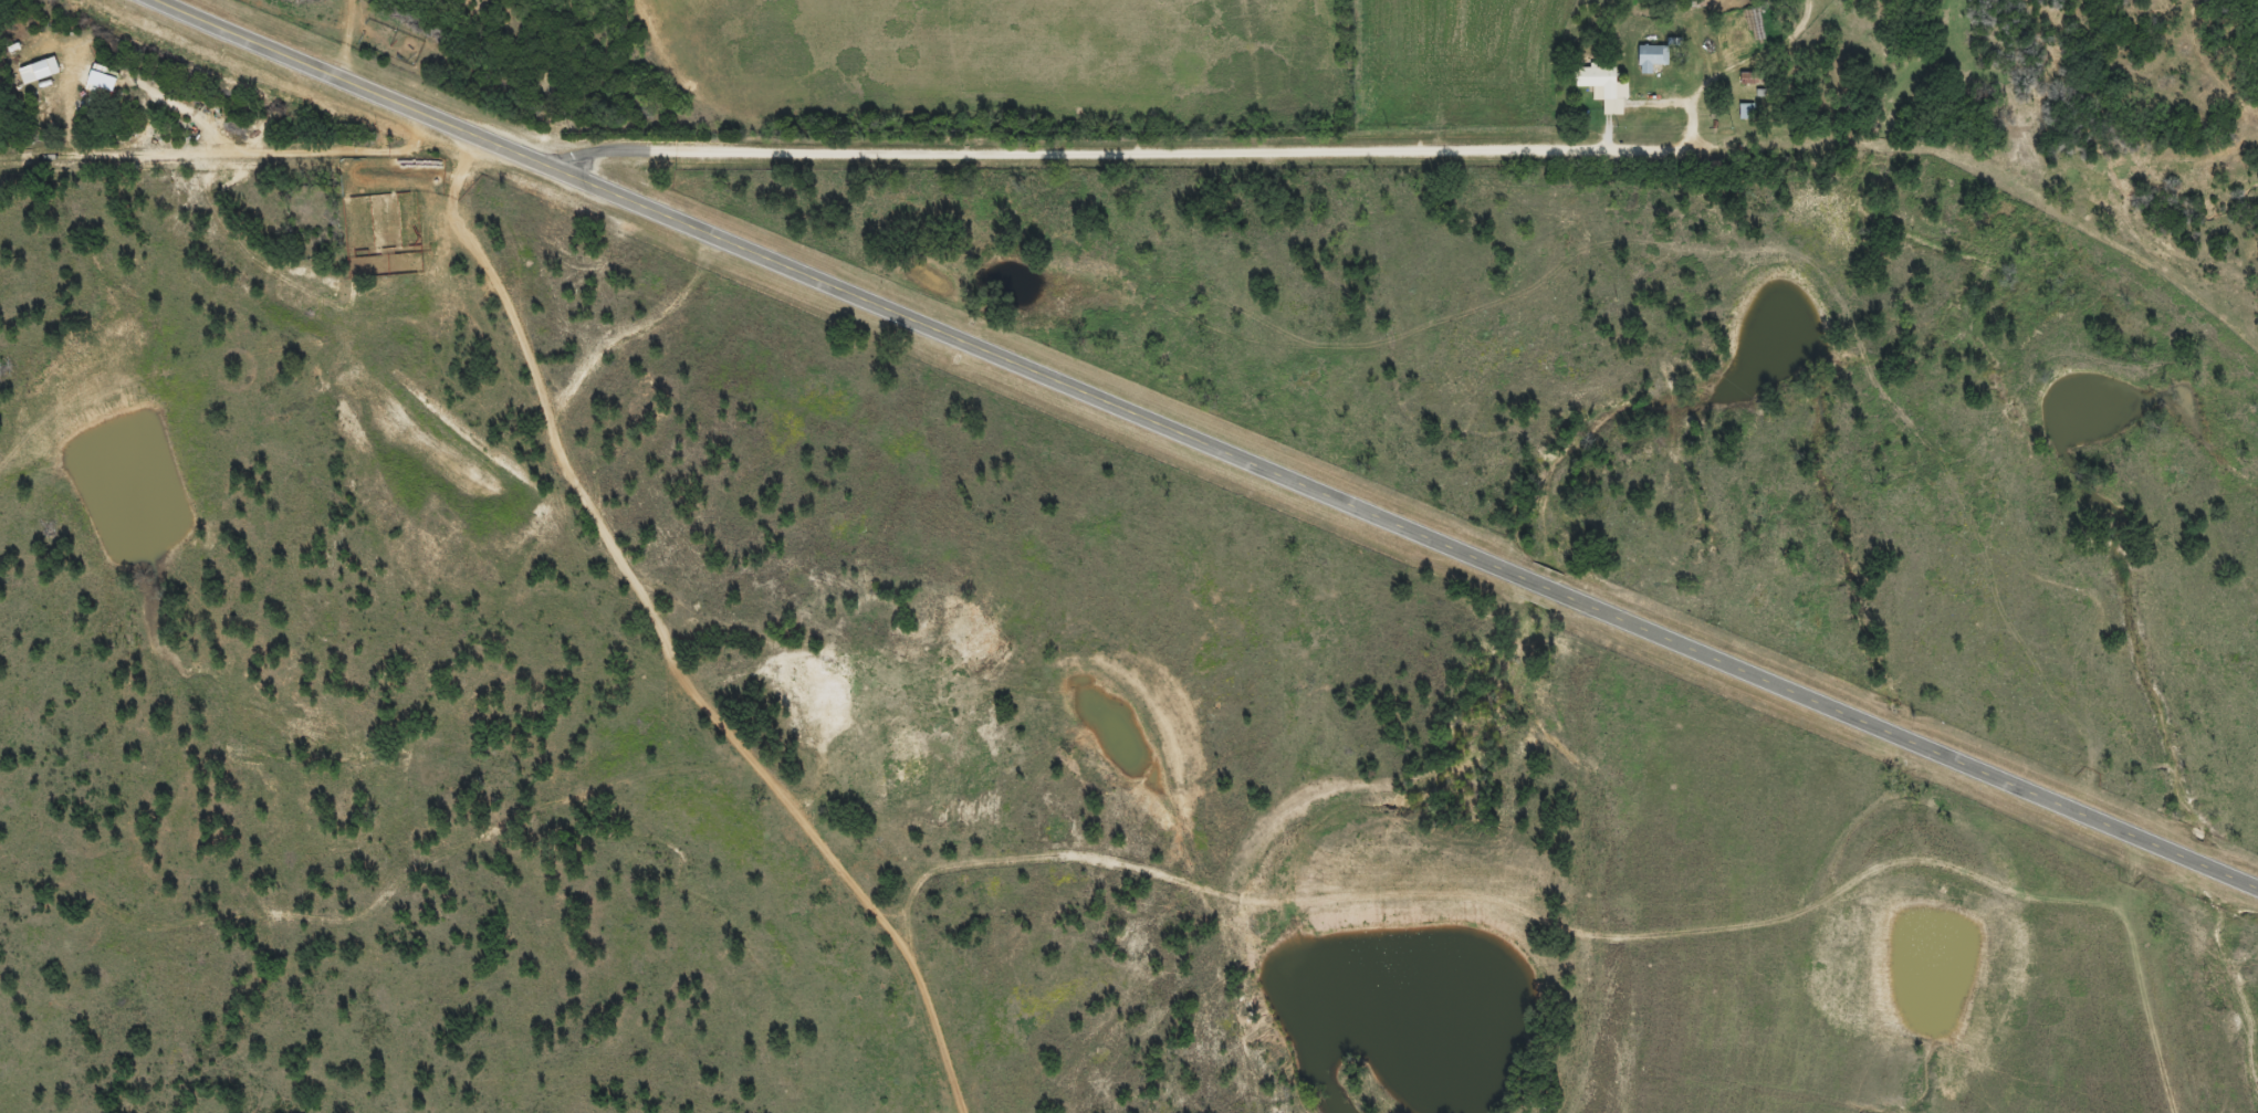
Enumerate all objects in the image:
building: (1649, 66)
building: (100, 87)
building: (1601, 96)
building: (1745, 119)
road: (1135, 150)
road: (1211, 439)

